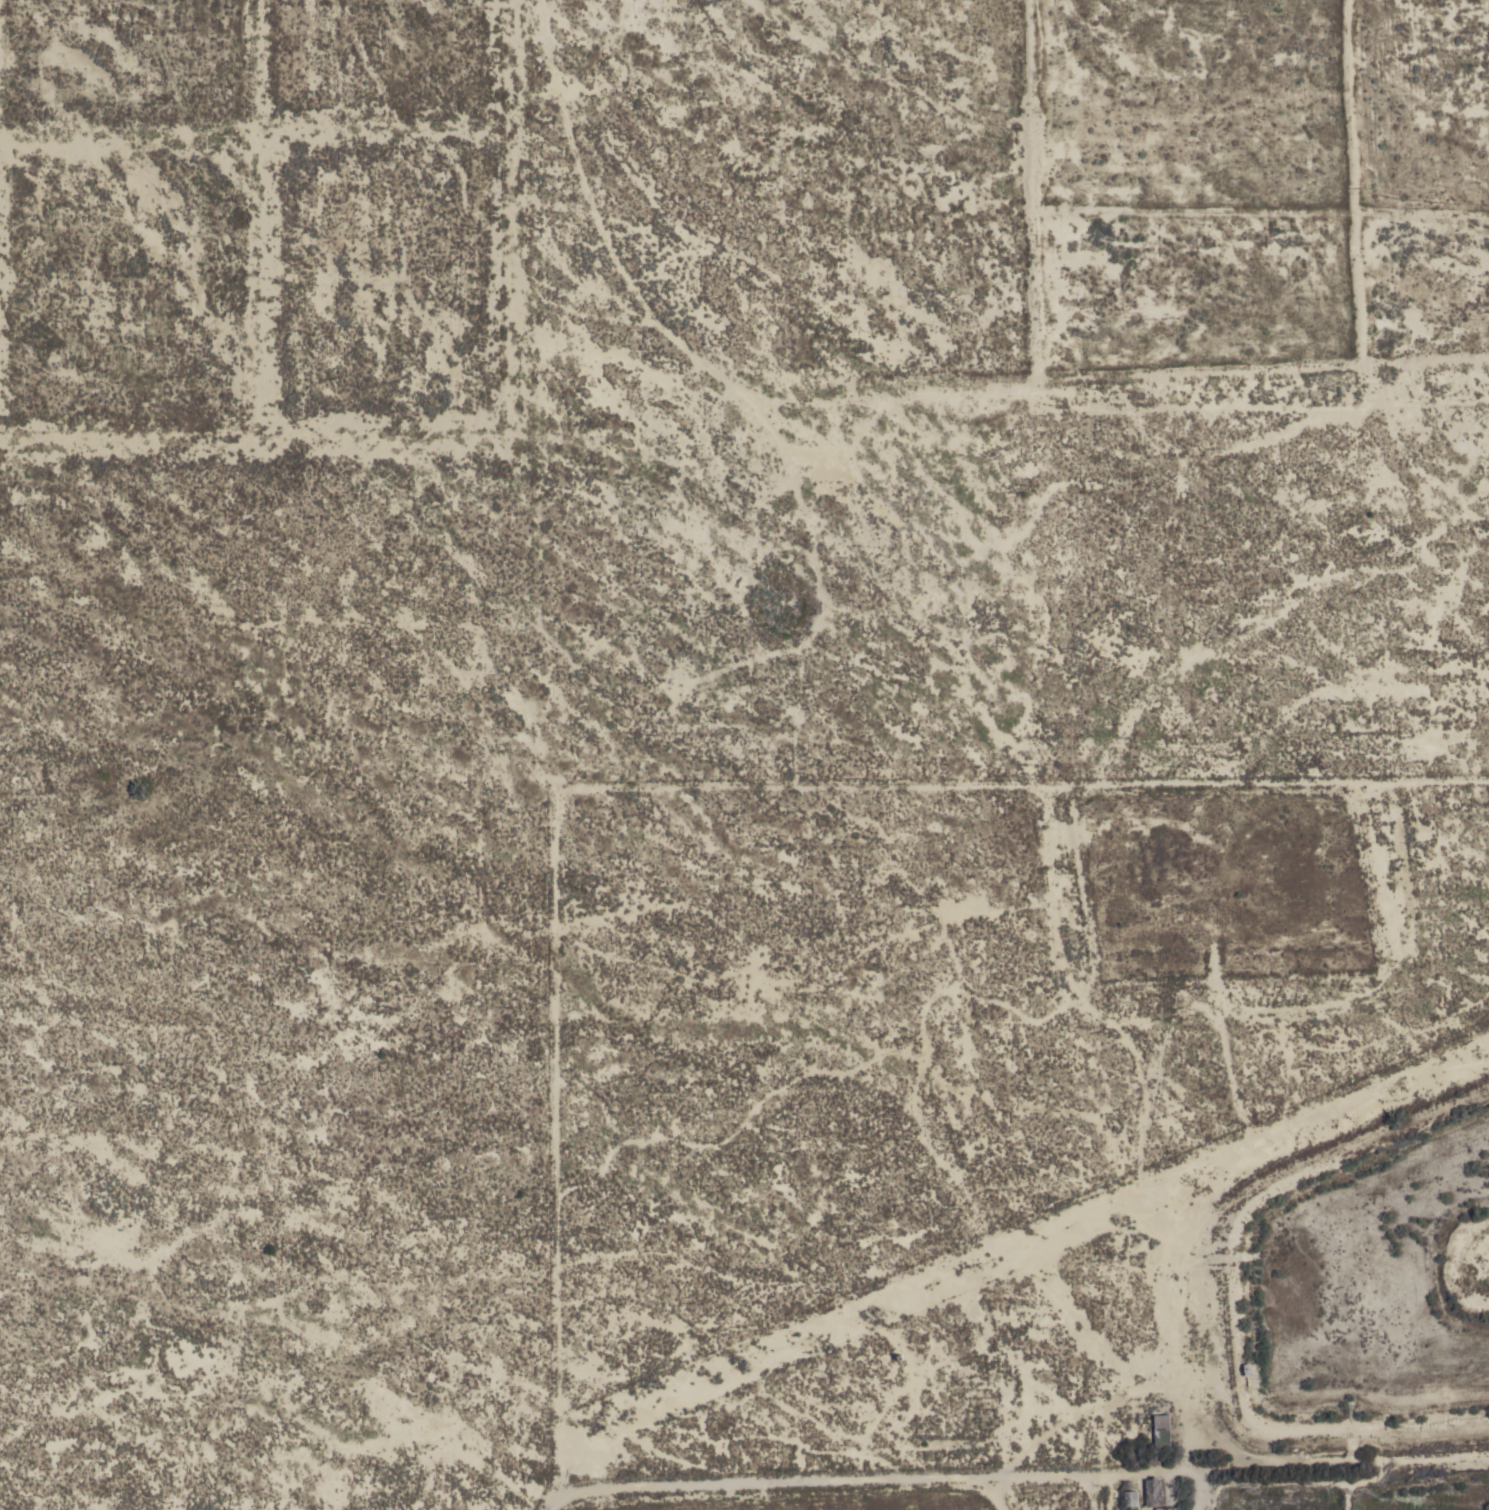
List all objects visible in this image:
building: (1162, 1430)
road: (859, 1481)
building: (1153, 1492)
building: (1131, 1498)
building: (1169, 1508)

